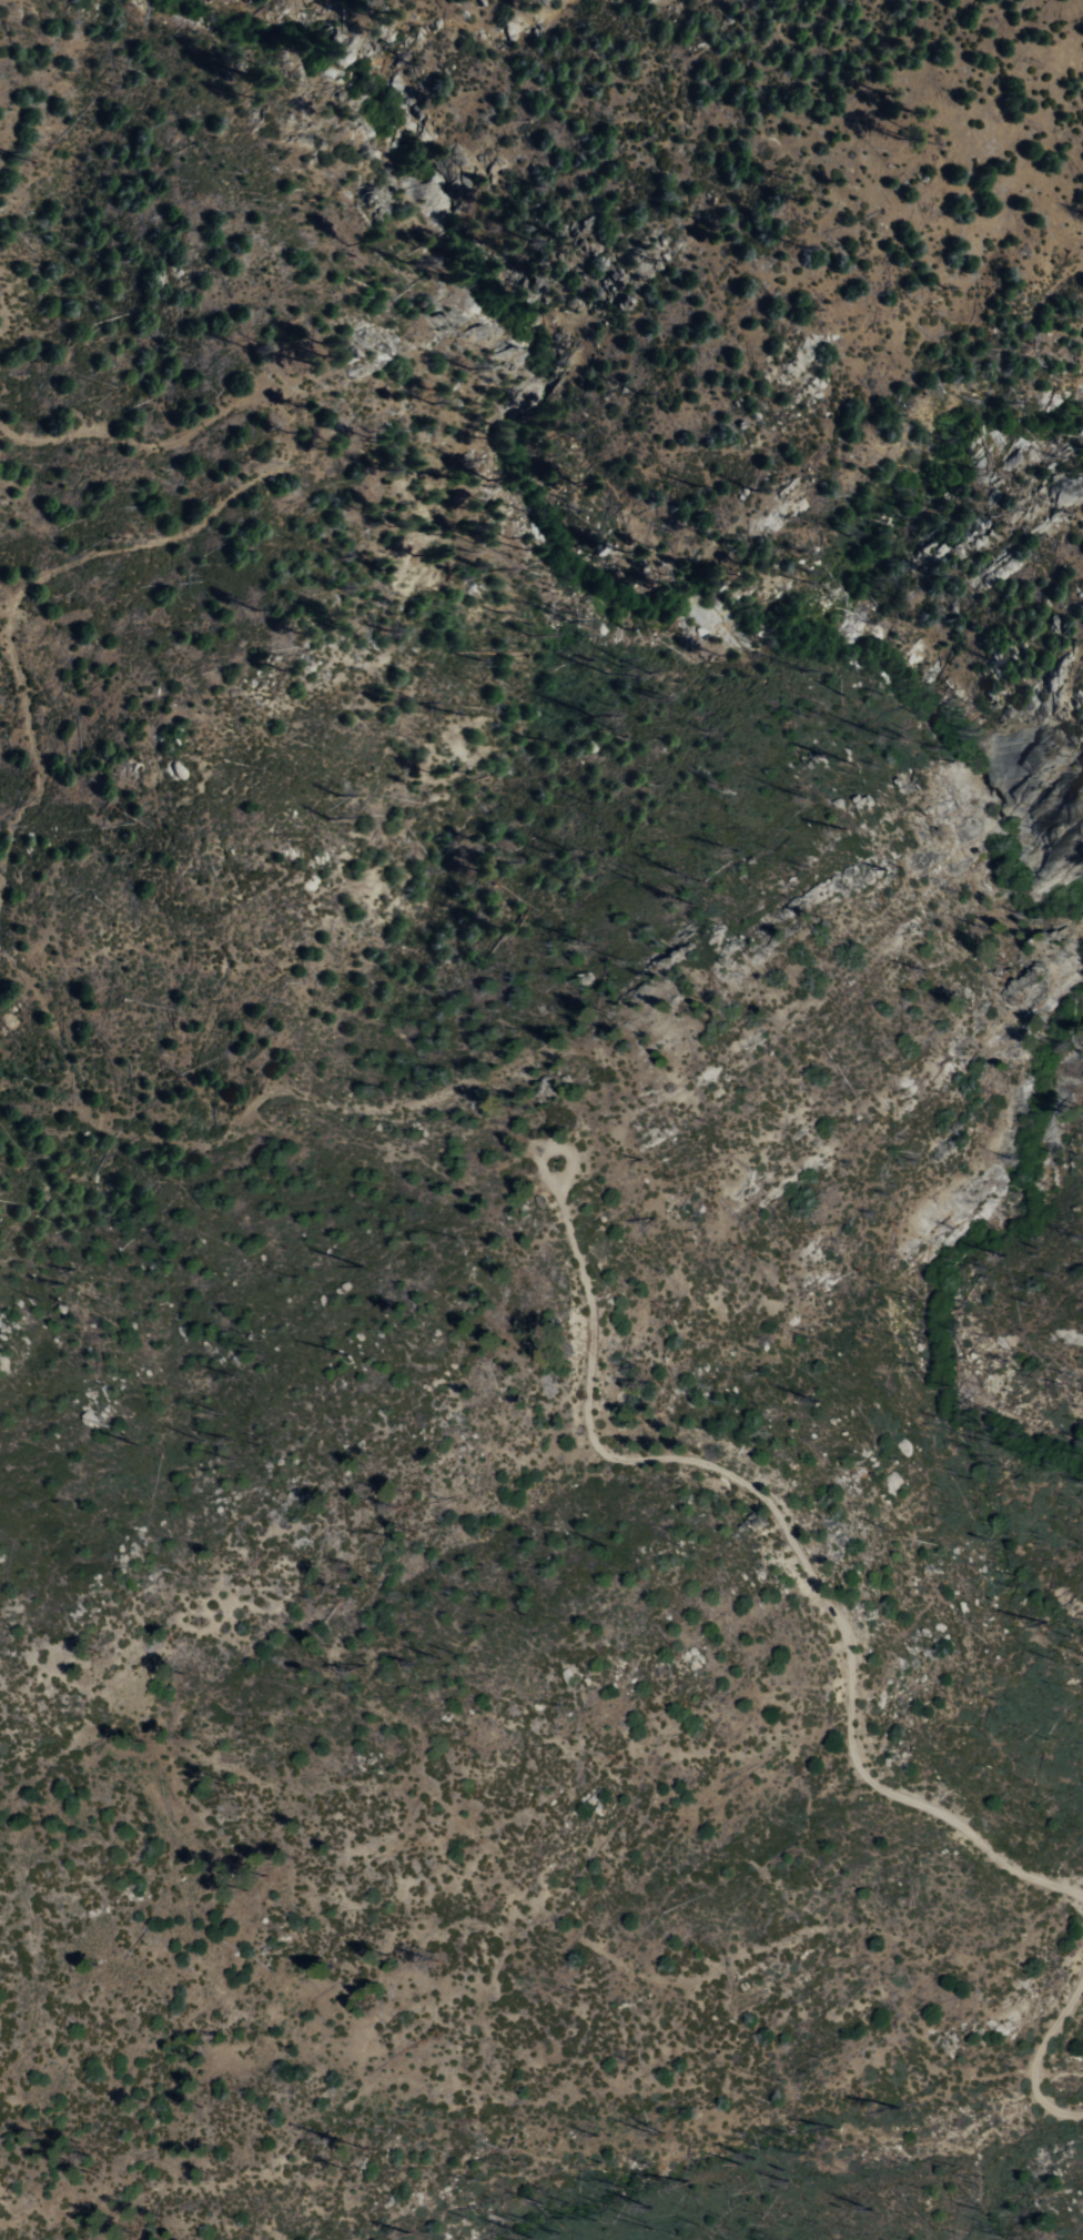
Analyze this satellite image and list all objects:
road: (780, 1542)
road: (1039, 2052)

